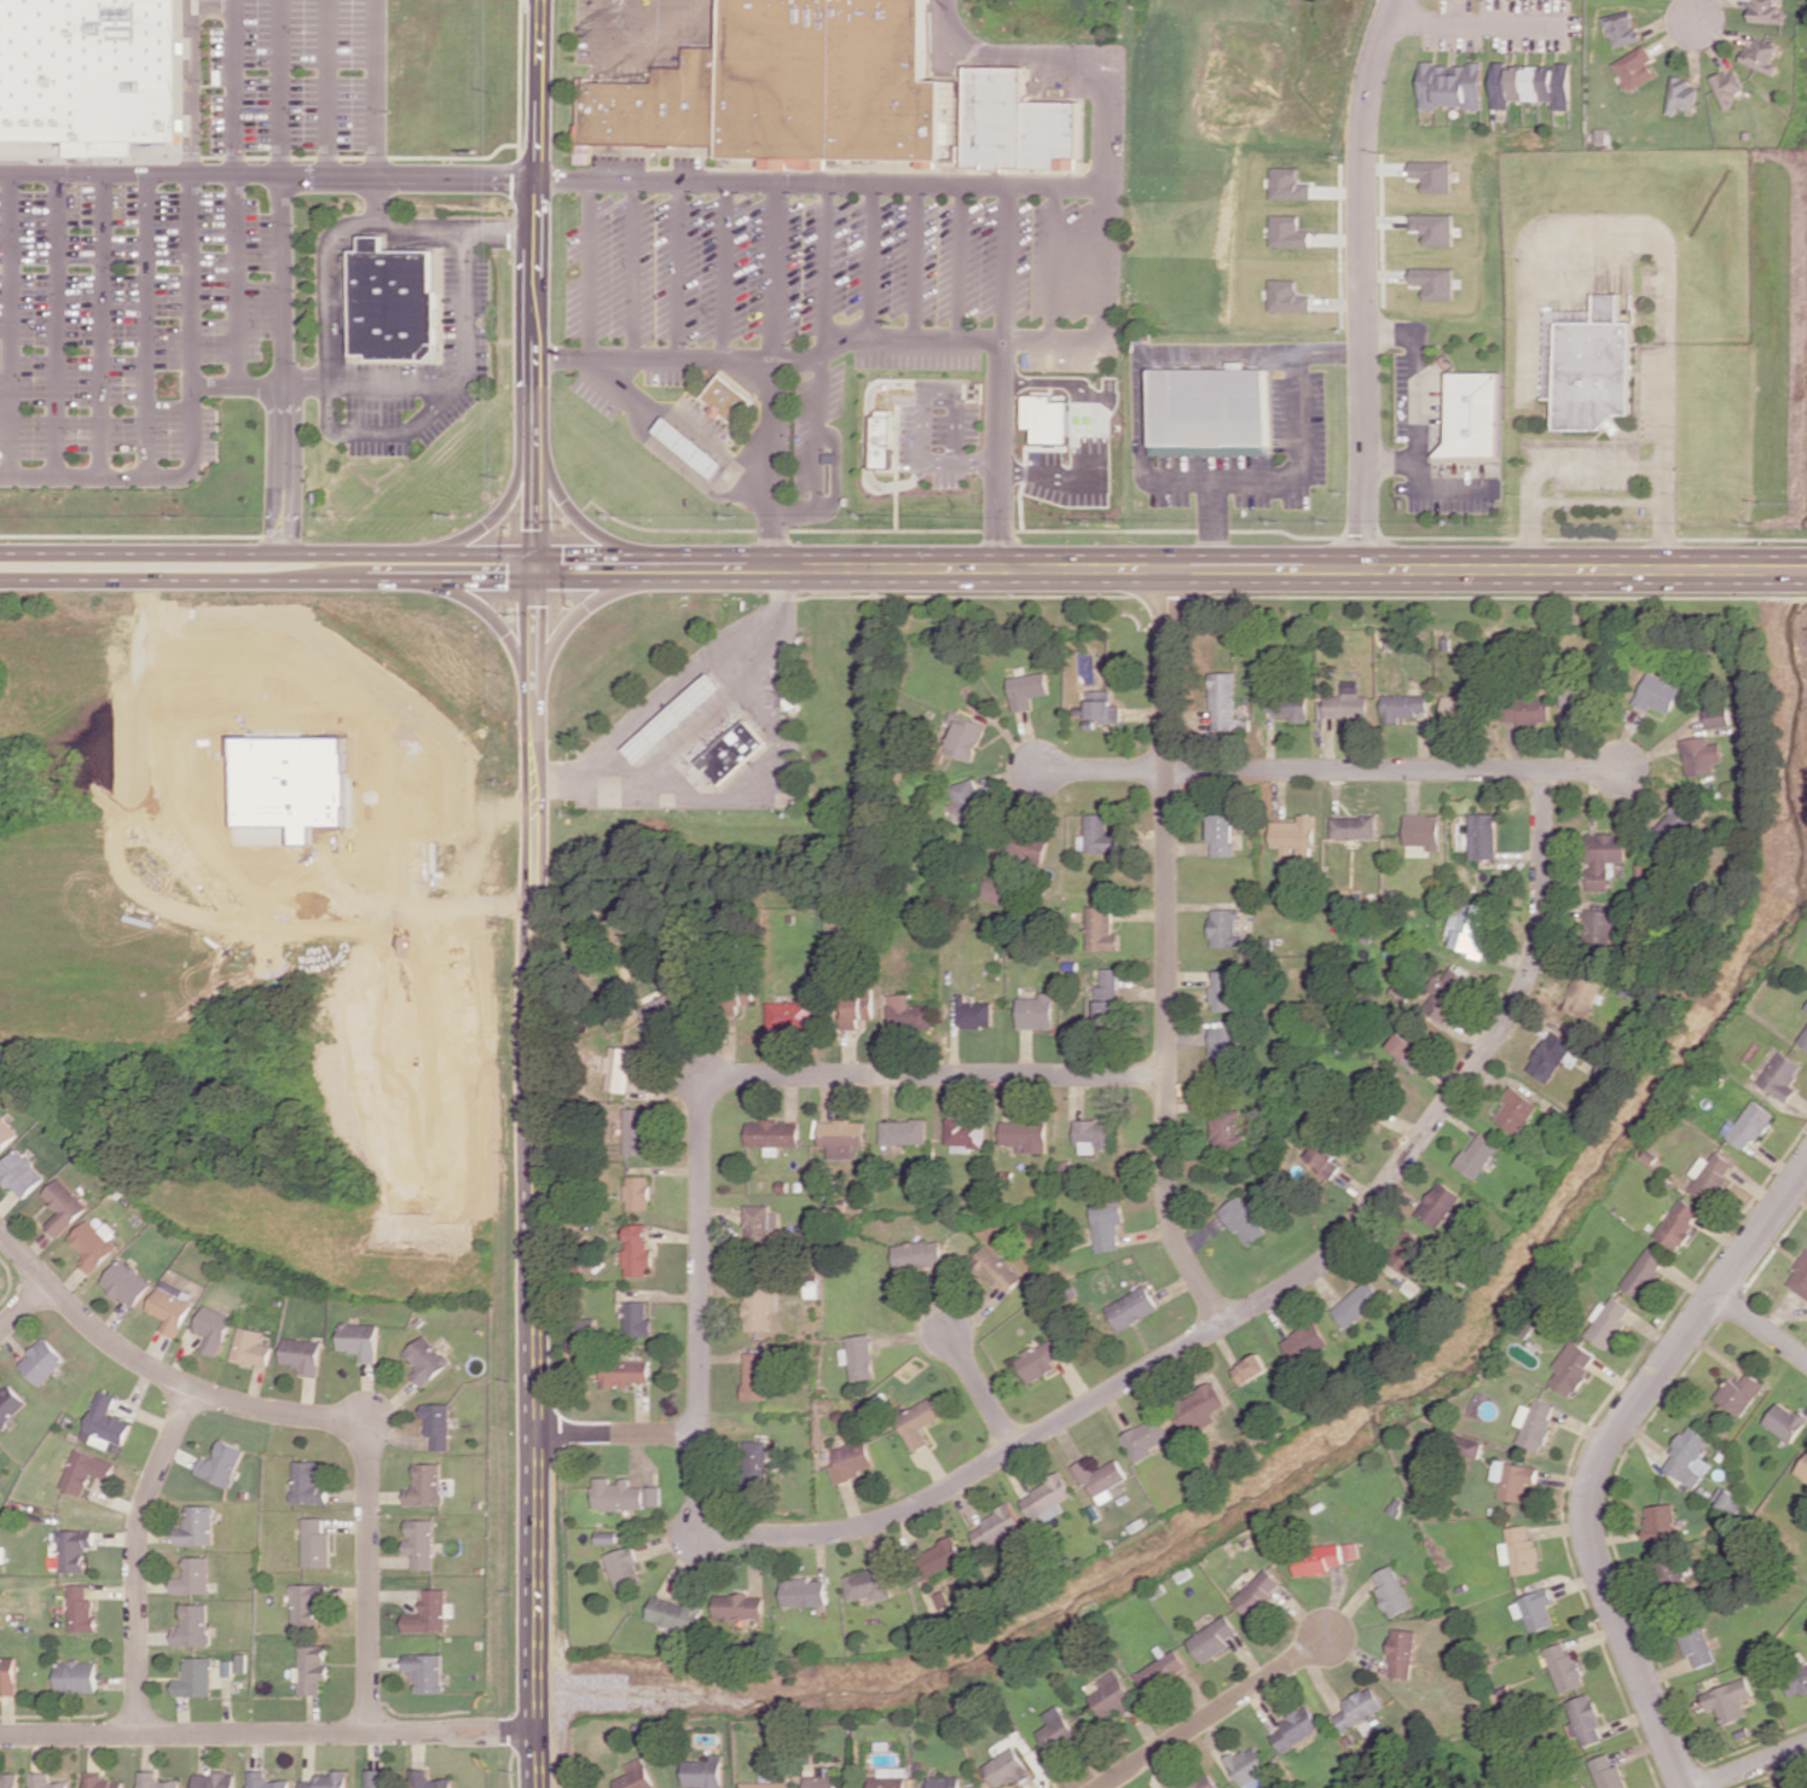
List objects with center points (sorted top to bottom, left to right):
road: (1689, 7)
building: (1767, 11)
building: (1621, 27)
road: (1473, 28)
building: (1762, 56)
building: (1634, 68)
building: (93, 74)
building: (1531, 85)
building: (1453, 86)
building: (1727, 87)
road: (324, 88)
building: (786, 91)
building: (1680, 94)
road: (369, 118)
building: (1021, 122)
building: (583, 152)
building: (1434, 175)
road: (270, 178)
building: (1290, 184)
road: (823, 191)
road: (233, 197)
building: (1432, 227)
building: (1290, 232)
road: (1107, 234)
parking lot: (176, 254)
road: (867, 268)
road: (911, 268)
road: (956, 268)
road: (1006, 268)
road: (1054, 268)
road: (279, 274)
road: (590, 275)
road: (633, 277)
road: (678, 277)
road: (722, 277)
road: (771, 277)
parking lot: (847, 278)
road: (1359, 281)
building: (1432, 281)
road: (1668, 284)
building: (1288, 296)
building: (393, 309)
road: (4, 330)
road: (51, 330)
road: (97, 330)
road: (143, 331)
road: (1191, 359)
road: (679, 364)
building: (1587, 365)
road: (818, 377)
parking lot: (418, 382)
road: (328, 389)
road: (1088, 391)
road: (325, 394)
road: (943, 394)
parking lot: (597, 399)
building: (736, 400)
building: (1218, 408)
building: (1471, 414)
building: (1048, 418)
parking lot: (706, 422)
road: (189, 423)
road: (688, 424)
building: (887, 439)
parking lot: (945, 440)
building: (691, 446)
road: (1002, 455)
road: (963, 463)
road: (770, 465)
road: (1548, 468)
road: (840, 475)
road: (1049, 475)
road: (1285, 484)
road: (487, 518)
road: (1666, 519)
road: (1209, 528)
road: (589, 529)
road: (271, 551)
road: (1174, 569)
road: (271, 576)
road: (591, 604)
road: (482, 611)
building: (1027, 689)
building: (790, 692)
building: (1657, 692)
road: (658, 698)
building: (1224, 701)
building: (1348, 703)
building: (1101, 706)
building: (1403, 706)
building: (1458, 706)
building: (1290, 707)
building: (1545, 707)
building: (674, 718)
road: (688, 733)
building: (966, 737)
building: (731, 751)
building: (1699, 755)
road: (763, 770)
road: (1331, 770)
building: (969, 801)
building: (1676, 818)
building: (1354, 826)
building: (1423, 830)
building: (1222, 834)
building: (1097, 835)
building: (1295, 835)
building: (1482, 836)
building: (1026, 847)
building: (1604, 857)
road: (541, 893)
park: (272, 923)
building: (1599, 925)
building: (1467, 927)
building: (1100, 928)
building: (1226, 928)
road: (1166, 953)
building: (1222, 989)
building: (1401, 991)
building: (1446, 994)
building: (1581, 995)
building: (1107, 998)
building: (859, 1008)
building: (1806, 1008)
building: (665, 1009)
building: (908, 1012)
building: (974, 1012)
building: (1035, 1012)
building: (793, 1015)
building: (1803, 1038)
building: (1224, 1046)
building: (1406, 1046)
building: (1548, 1056)
building: (619, 1067)
road: (934, 1075)
building: (1783, 1076)
building: (1514, 1110)
building: (1749, 1125)
building: (1226, 1128)
building: (636, 1131)
building: (903, 1131)
building: (5, 1133)
building: (965, 1133)
building: (772, 1134)
building: (1093, 1134)
building: (1025, 1136)
building: (841, 1137)
building: (1476, 1155)
building: (1322, 1159)
building: (19, 1173)
building: (1712, 1174)
building: (637, 1192)
building: (1438, 1203)
building: (63, 1206)
building: (1244, 1220)
building: (760, 1223)
building: (1107, 1224)
building: (1679, 1225)
building: (93, 1246)
building: (637, 1250)
building: (1409, 1250)
building: (919, 1254)
building: (997, 1269)
building: (1645, 1271)
building: (1800, 1277)
building: (128, 1283)
park: (6, 1284)
road: (1272, 1295)
building: (1356, 1304)
road: (23, 1306)
building: (759, 1307)
building: (1133, 1307)
road: (700, 1308)
building: (170, 1310)
building: (637, 1319)
building: (1608, 1322)
road: (1760, 1327)
building: (213, 1328)
building: (358, 1340)
building: (1305, 1342)
building: (251, 1347)
building: (301, 1355)
building: (858, 1357)
building: (425, 1359)
building: (1041, 1359)
building: (44, 1360)
building: (1573, 1366)
building: (1250, 1369)
road: (156, 1371)
building: (625, 1372)
building: (757, 1376)
road: (979, 1388)
building: (1739, 1393)
building: (11, 1405)
building: (1198, 1406)
building: (1785, 1421)
building: (919, 1422)
building: (1535, 1422)
building: (438, 1423)
building: (108, 1424)
road: (620, 1433)
building: (1147, 1438)
building: (1473, 1447)
road: (1599, 1452)
building: (1687, 1457)
building: (851, 1461)
building: (224, 1462)
building: (755, 1462)
building: (1802, 1469)
building: (87, 1470)
building: (1101, 1478)
building: (1513, 1479)
building: (309, 1482)
building: (429, 1485)
building: (618, 1494)
building: (1047, 1496)
building: (1660, 1521)
building: (198, 1525)
building: (997, 1525)
building: (422, 1542)
building: (315, 1543)
building: (74, 1549)
building: (1518, 1549)
building: (1351, 1550)
building: (944, 1554)
road: (135, 1557)
building: (1317, 1558)
building: (625, 1567)
building: (1672, 1572)
building: (193, 1577)
road: (369, 1579)
building: (869, 1584)
building: (1391, 1590)
building: (805, 1591)
building: (1259, 1592)
building: (308, 1604)
building: (739, 1606)
building: (80, 1609)
building: (1534, 1609)
building: (430, 1612)
building: (677, 1614)
building: (193, 1625)
building: (1214, 1638)
building: (1697, 1645)
building: (1402, 1653)
building: (1564, 1666)
building: (313, 1667)
building: (1162, 1670)
building: (427, 1671)
building: (7, 1676)
building: (75, 1676)
building: (195, 1677)
building: (1796, 1679)
building: (1112, 1693)
building: (1728, 1699)
building: (1360, 1707)
road: (1214, 1712)
building: (1585, 1720)
road: (474, 1724)
building: (1295, 1728)
building: (1059, 1730)
road: (273, 1735)
building: (1249, 1766)
building: (1008, 1767)
road: (1749, 1767)
building: (705, 1772)
building: (1608, 1772)
building: (637, 1775)
building: (378, 1777)
building: (890, 1777)
building: (215, 1780)
building: (328, 1780)
building: (429, 1780)
building: (8, 1781)
building: (46, 1781)
building: (102, 1781)
building: (156, 1781)
building: (266, 1781)
building: (821, 1781)
building: (945, 1782)
building: (1204, 1782)
building: (766, 1784)

